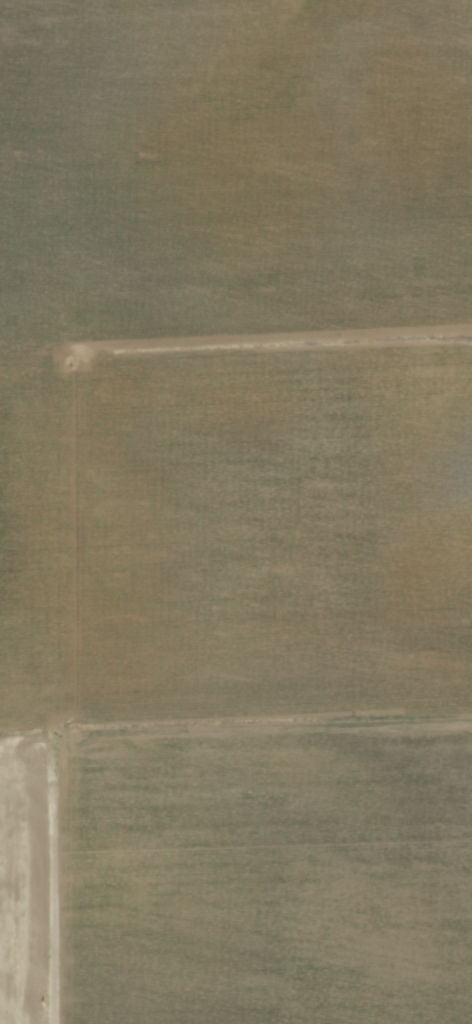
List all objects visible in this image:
crop: (236, 512)

